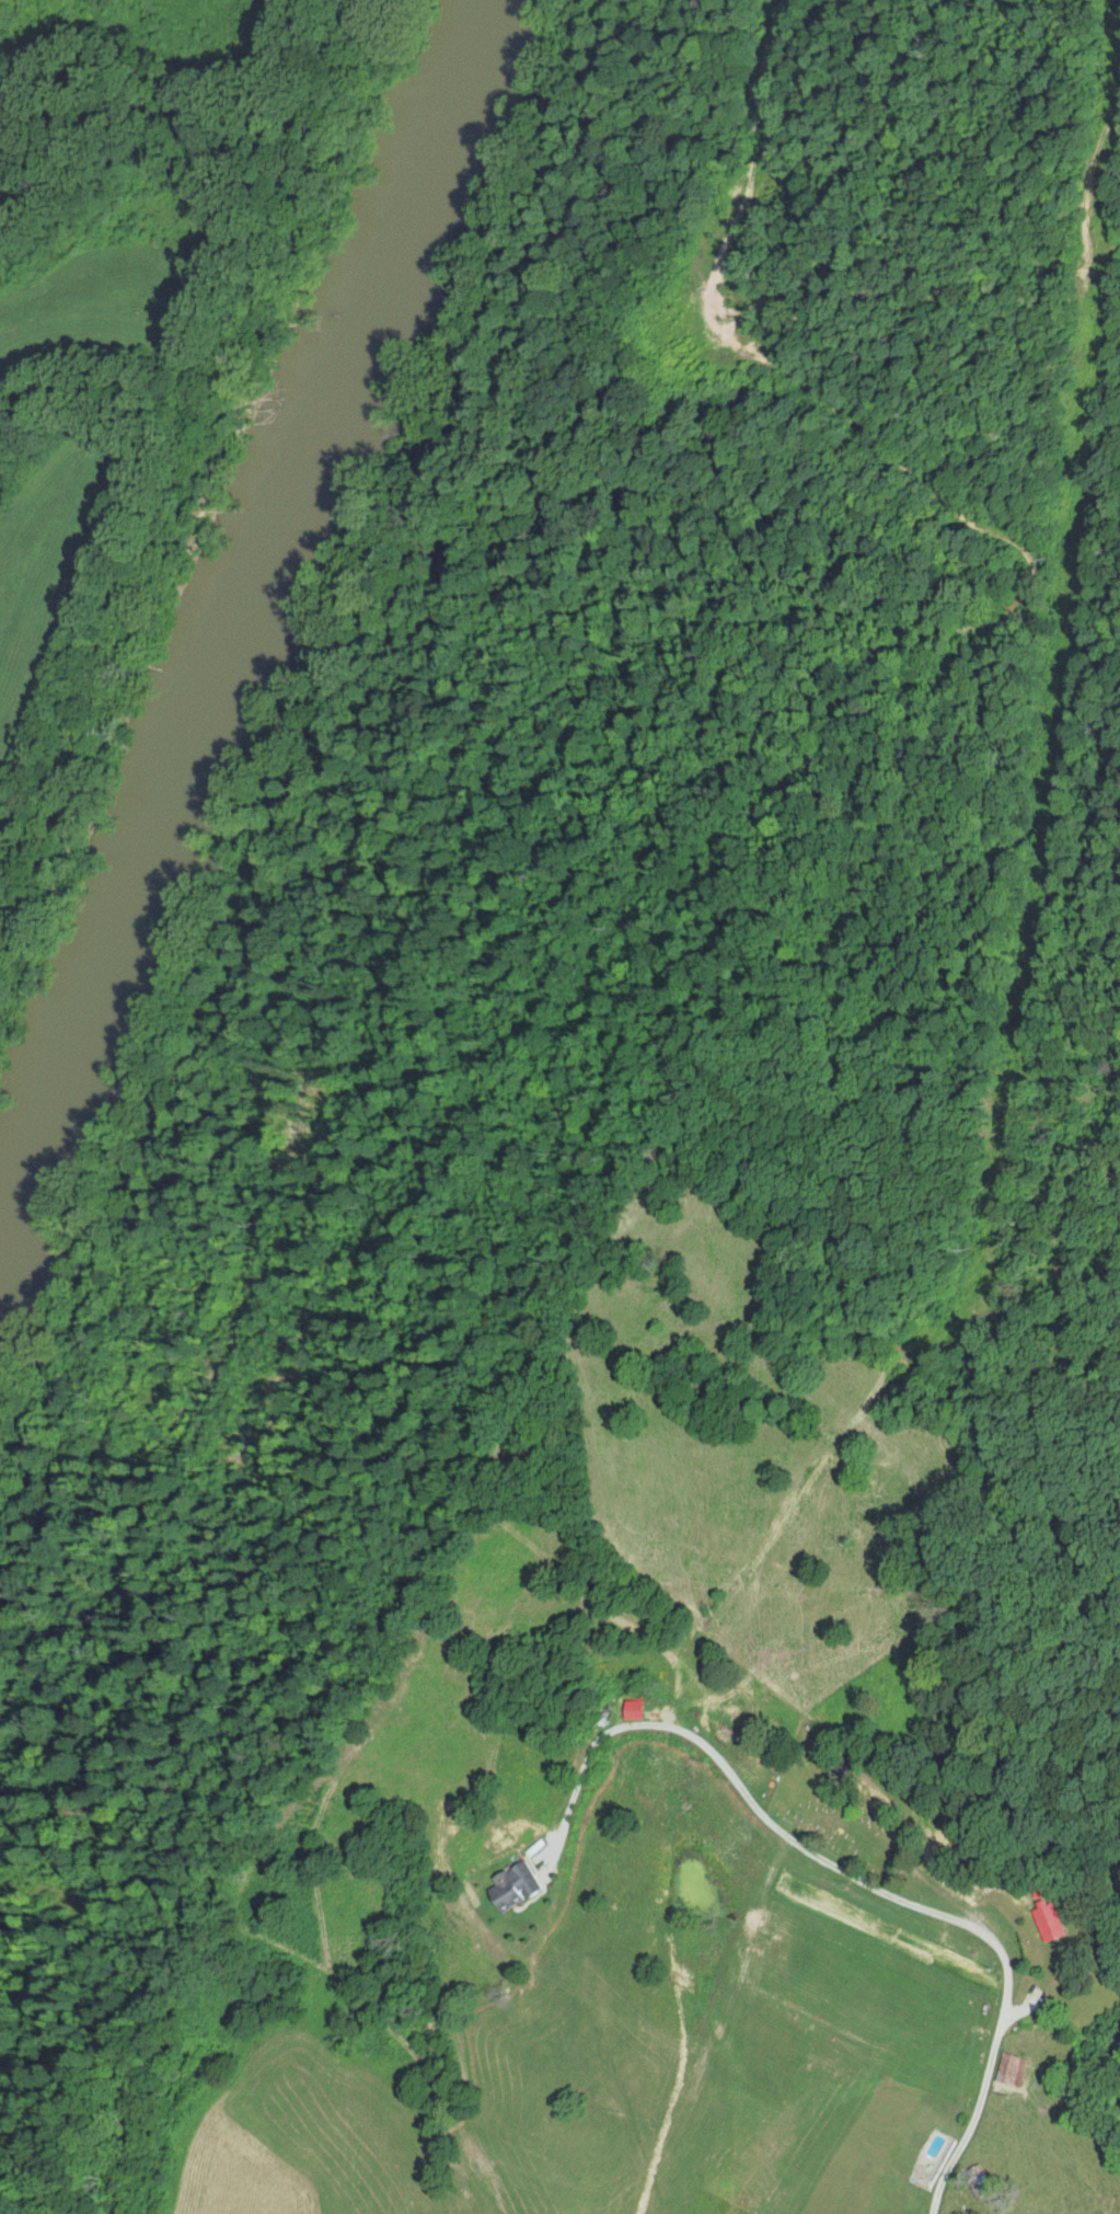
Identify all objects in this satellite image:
river: (252, 609)
building: (638, 1706)
building: (518, 1886)
building: (1051, 1922)
road: (991, 2159)

